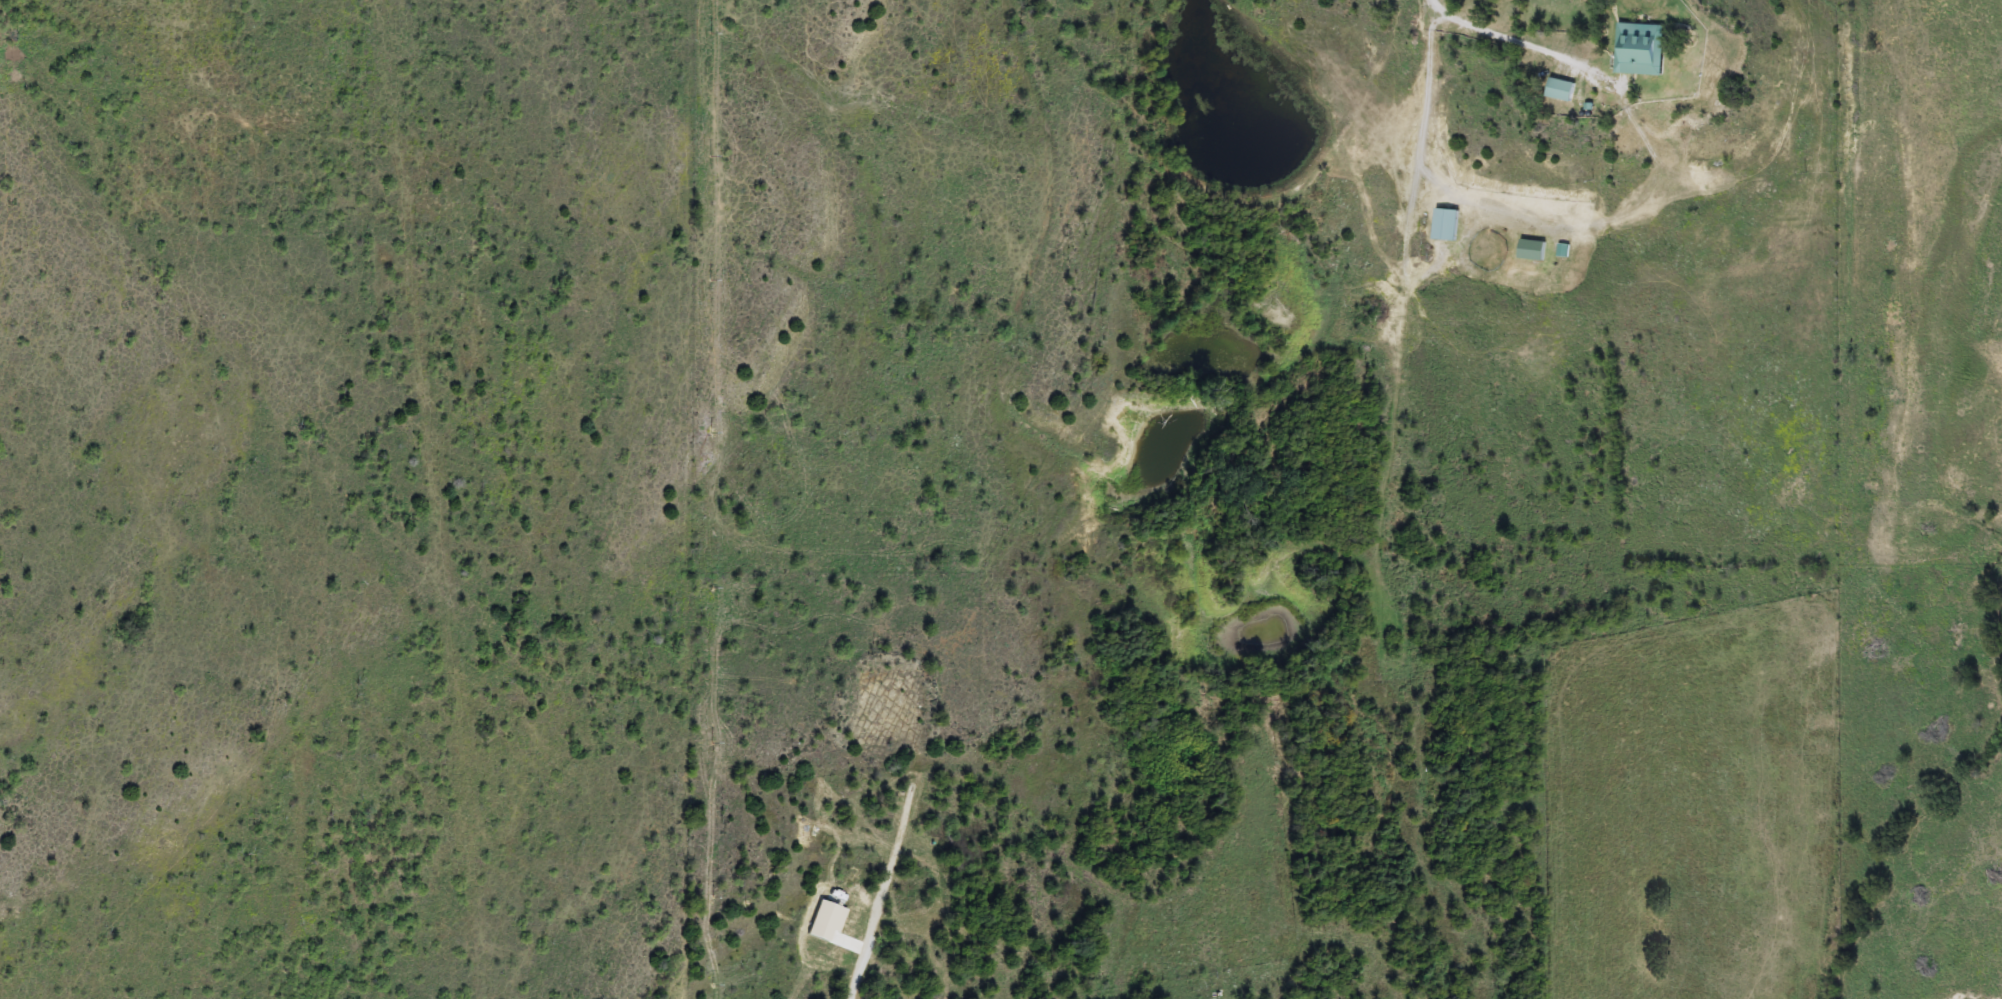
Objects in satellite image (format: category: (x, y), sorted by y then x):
road: (1520, 44)
building: (1641, 49)
building: (1562, 89)
building: (1447, 224)
road: (860, 974)

